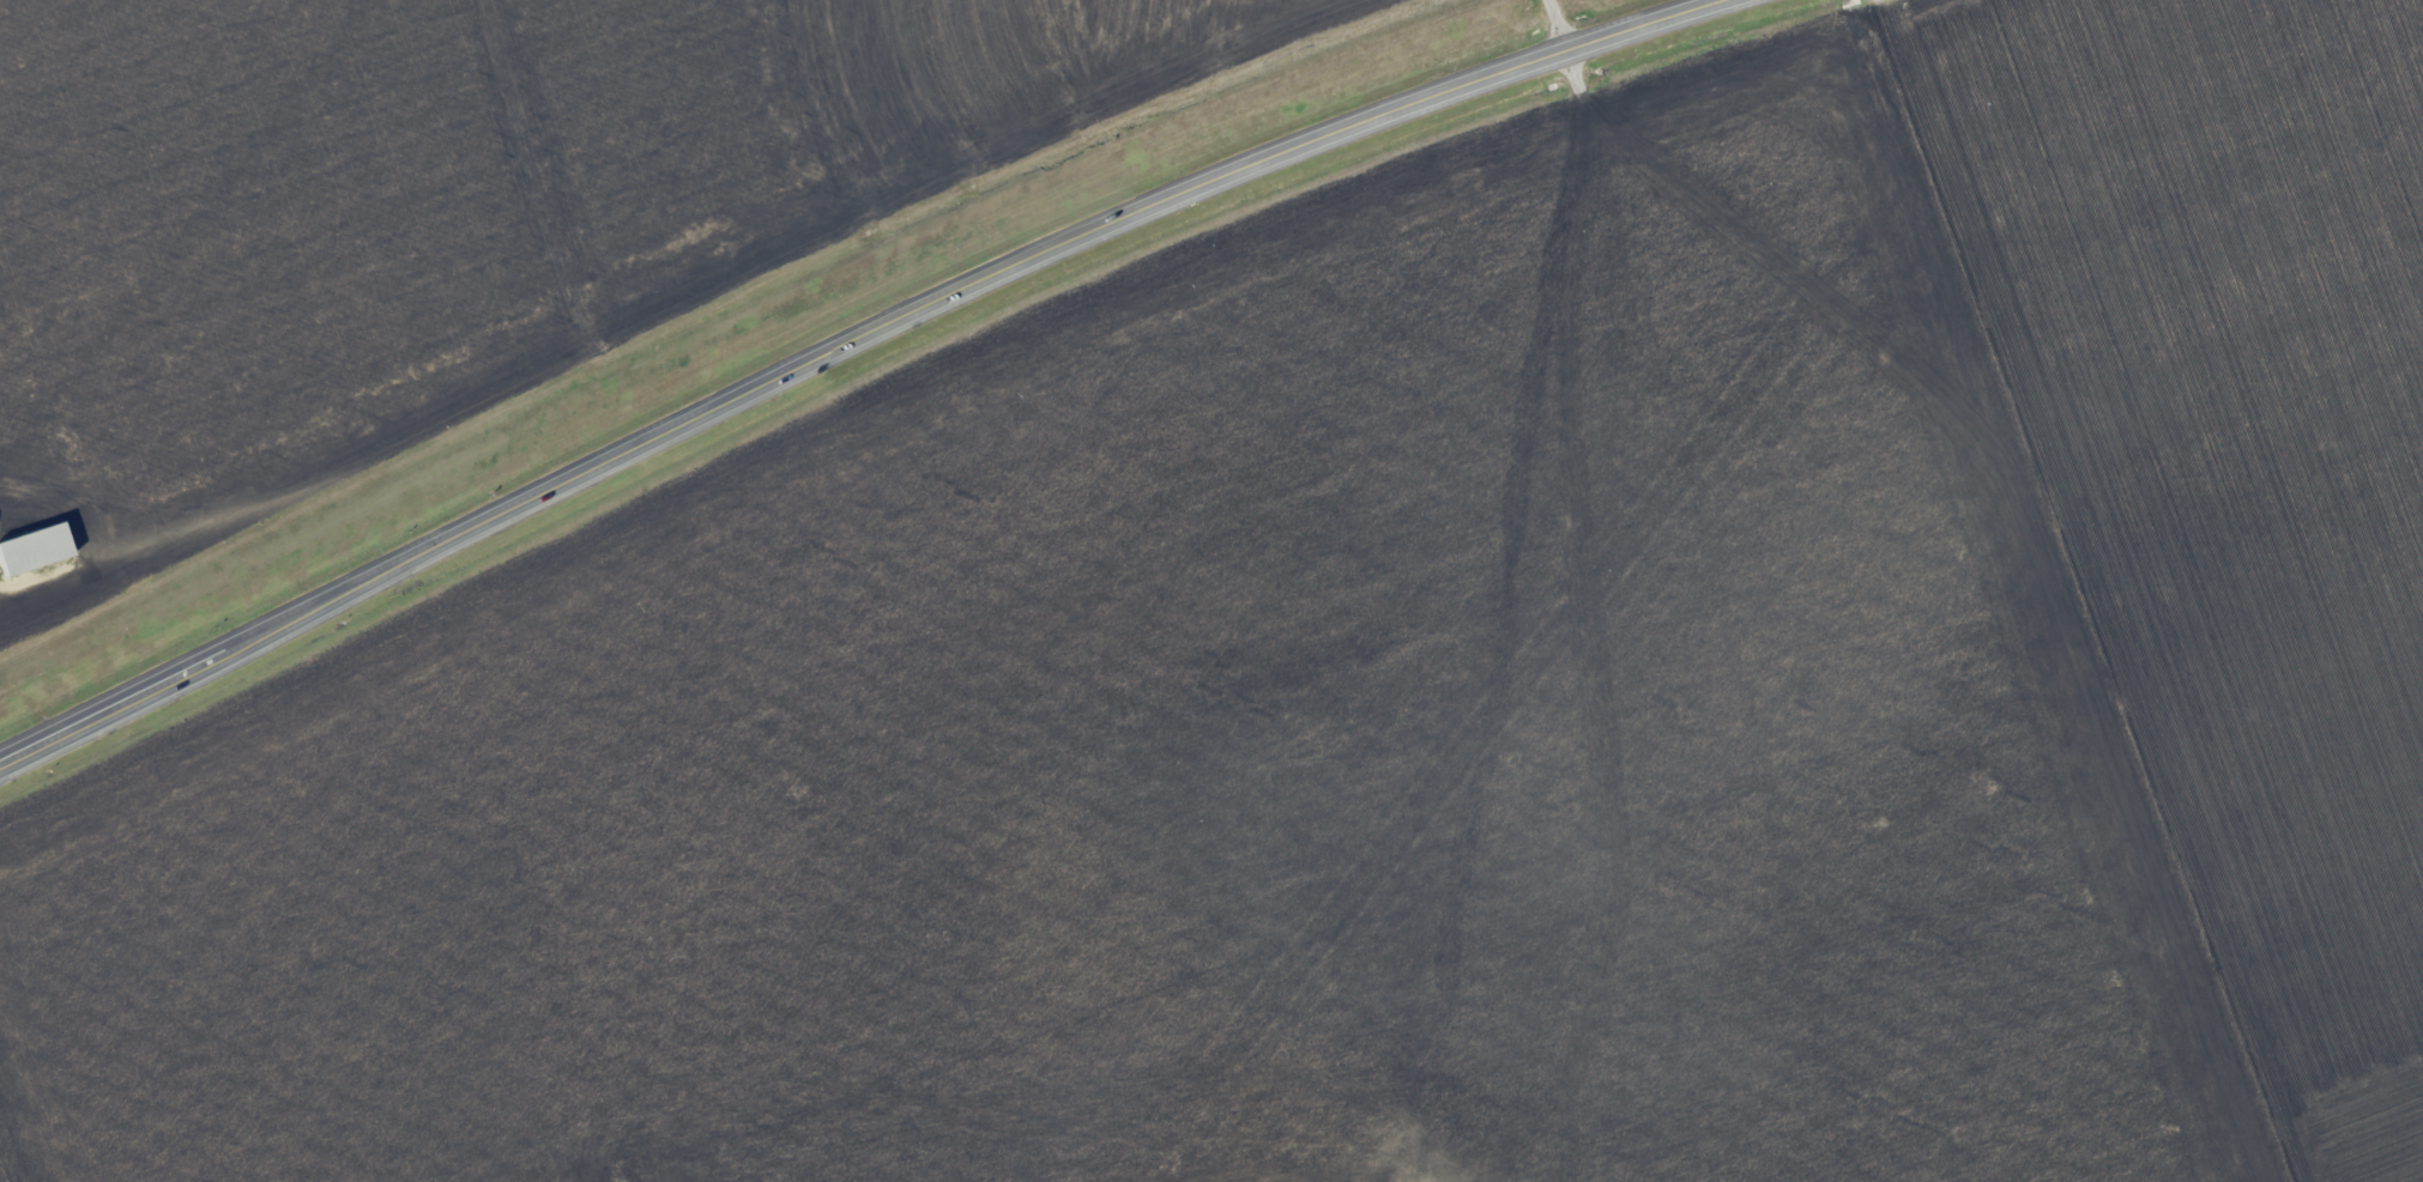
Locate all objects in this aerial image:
road: (1553, 24)
road: (836, 344)

